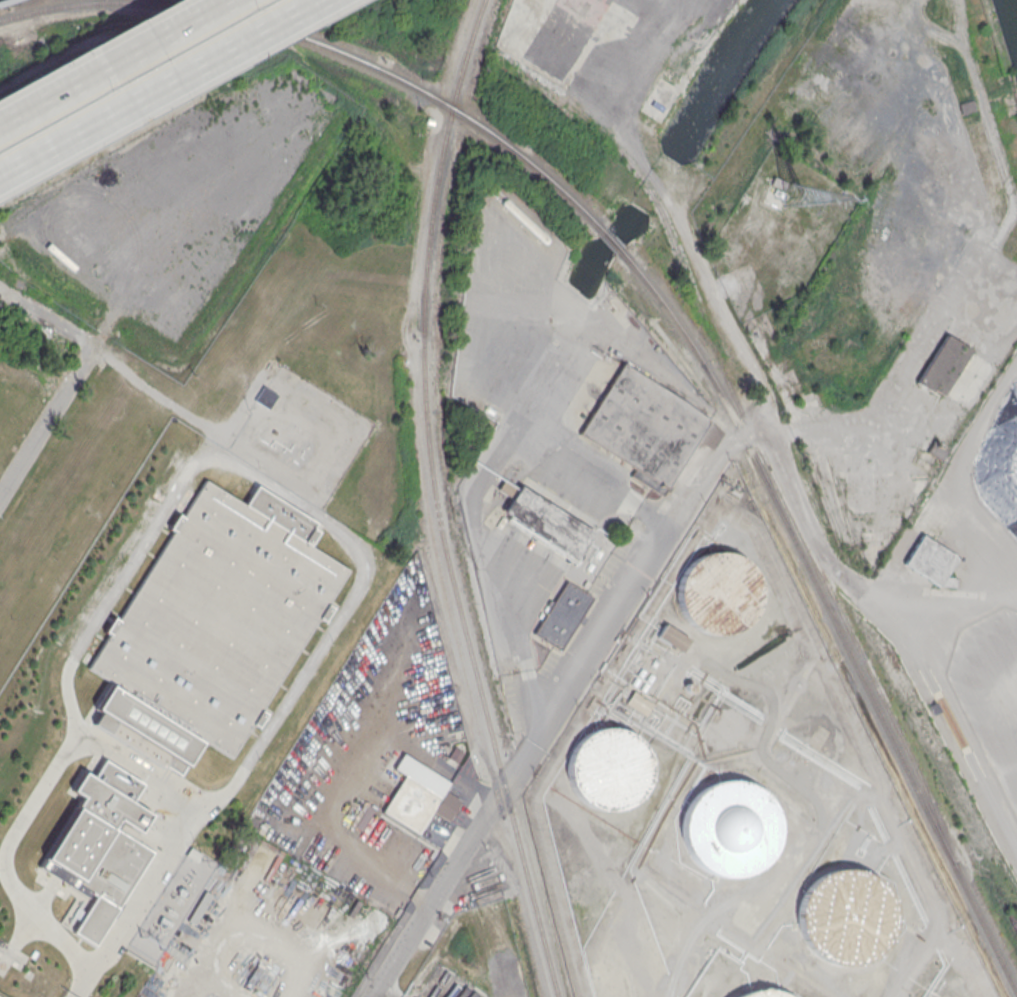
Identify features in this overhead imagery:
railway: (1, 0)
railway: (1, 0)
railway: (95, 3)
road: (106, 59)
road: (588, 74)
railway: (394, 77)
road: (157, 87)
building: (966, 106)
railway: (572, 108)
building: (428, 121)
road: (656, 177)
railway: (648, 188)
railway: (608, 240)
road: (721, 315)
railway: (703, 319)
building: (941, 365)
road: (133, 376)
building: (265, 395)
road: (46, 420)
railway: (748, 425)
building: (639, 427)
railway: (754, 436)
building: (936, 451)
road: (244, 470)
road: (479, 485)
railway: (435, 502)
building: (542, 518)
building: (929, 560)
road: (844, 588)
building: (717, 594)
storage tank: (717, 594)
building: (563, 615)
railway: (830, 616)
building: (212, 626)
building: (672, 637)
railway: (859, 649)
road: (594, 651)
building: (636, 677)
storage tank: (636, 677)
building: (645, 683)
storage tank: (645, 683)
building: (638, 702)
wastewater plant: (164, 709)
building: (609, 769)
storage tank: (609, 769)
building: (418, 803)
building: (730, 828)
storage tank: (730, 828)
building: (99, 848)
building: (192, 856)
power substation: (175, 904)
building: (845, 915)
storage tank: (845, 915)
road: (84, 988)
road: (379, 994)
building: (761, 994)
storage tank: (761, 994)

